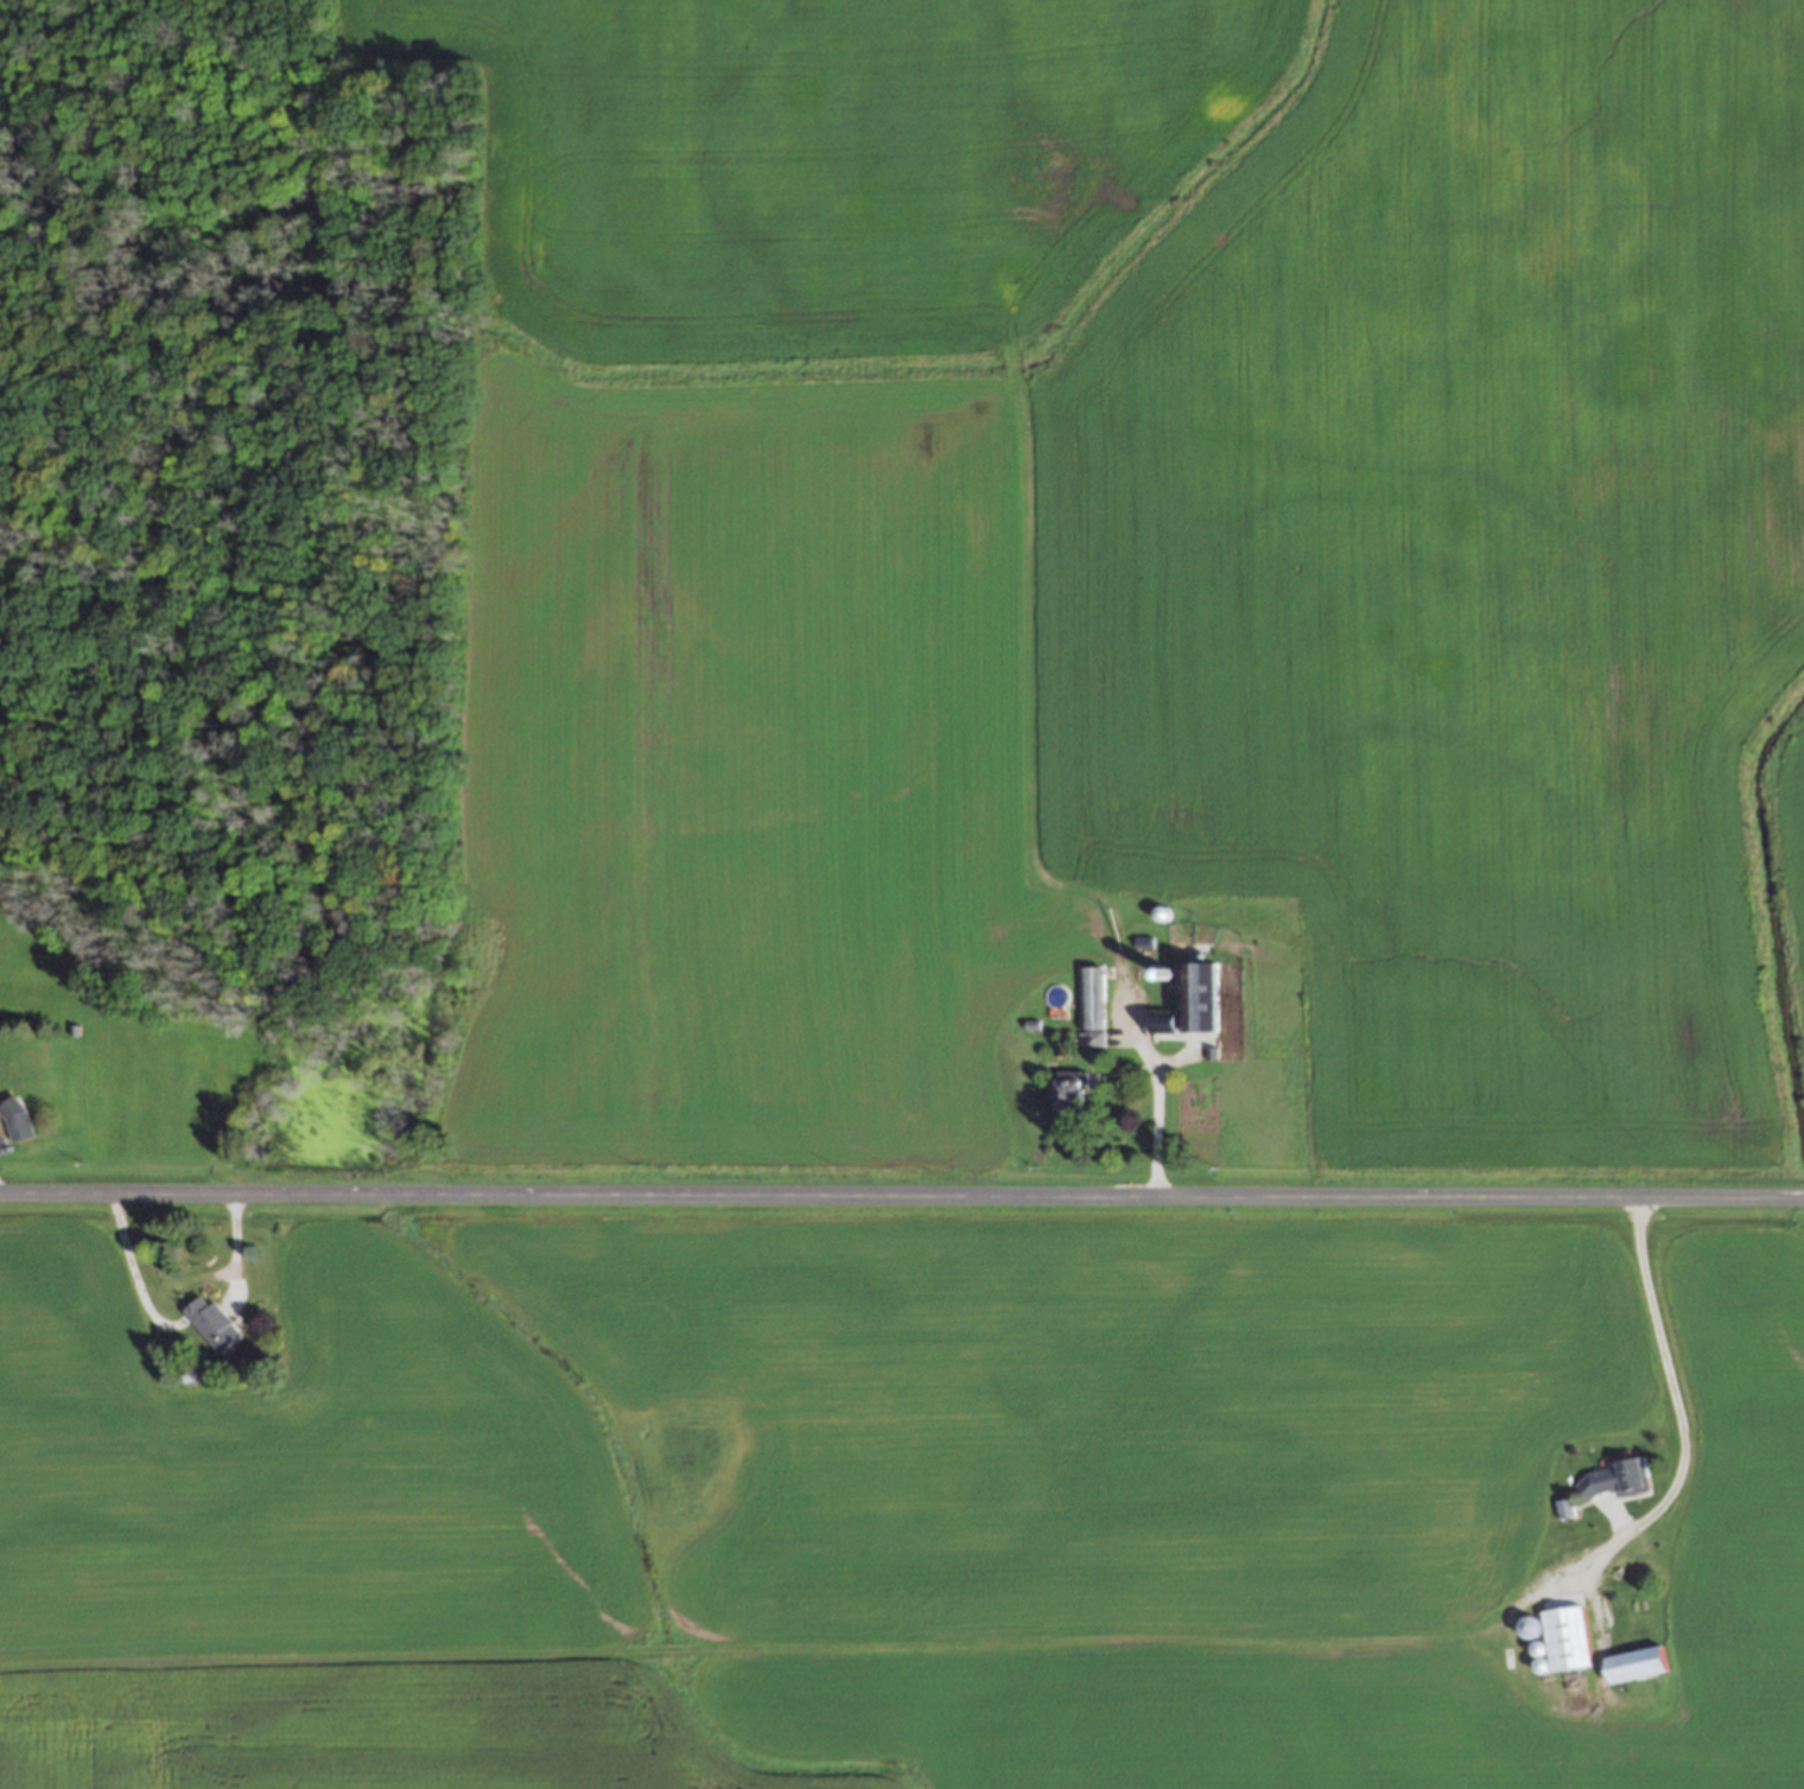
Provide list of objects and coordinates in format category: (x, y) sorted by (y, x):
building: (1201, 997)
building: (1090, 1004)
building: (1158, 1021)
building: (1067, 1091)
building: (14, 1119)
road: (902, 1197)
building: (210, 1322)
building: (1612, 1479)
building: (1563, 1637)
building: (1631, 1663)

